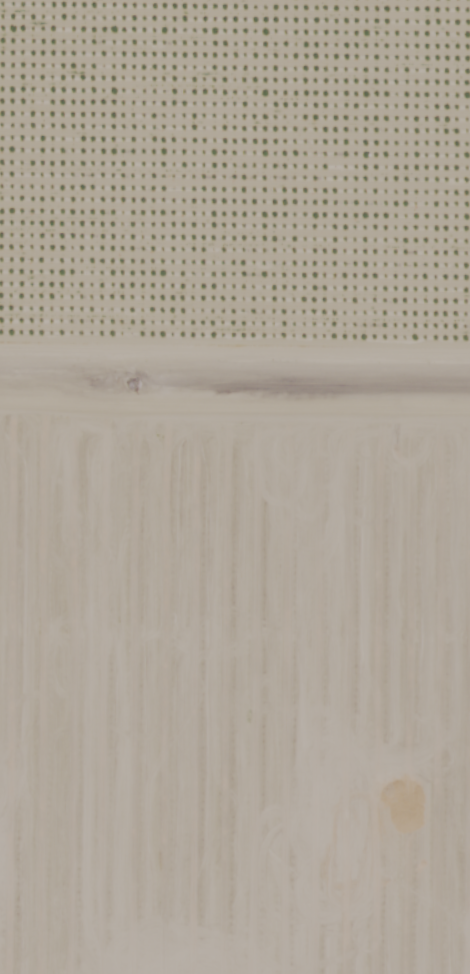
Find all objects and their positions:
crop: (236, 153)

